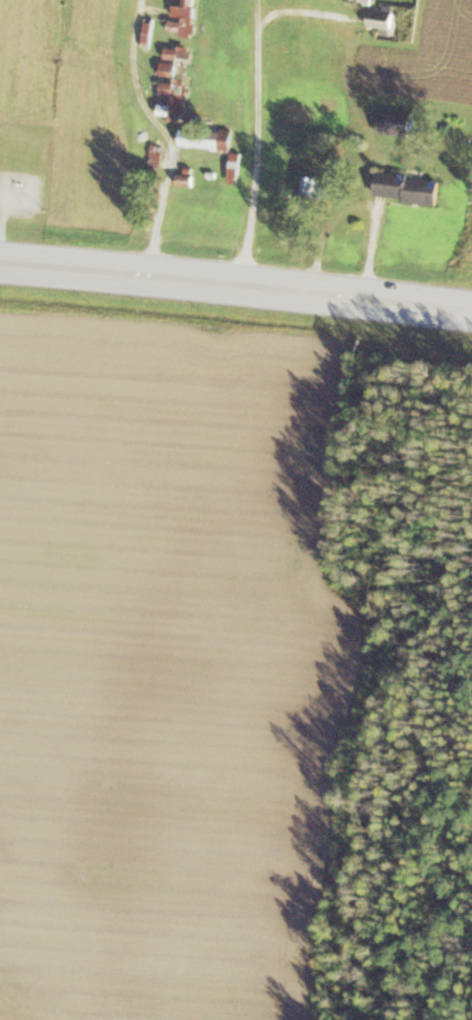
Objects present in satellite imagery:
building: (182, 17)
building: (171, 58)
building: (171, 98)
building: (298, 111)
building: (394, 121)
road: (165, 135)
building: (203, 137)
road: (257, 143)
building: (154, 154)
building: (232, 166)
building: (312, 184)
building: (404, 187)
road: (235, 285)

